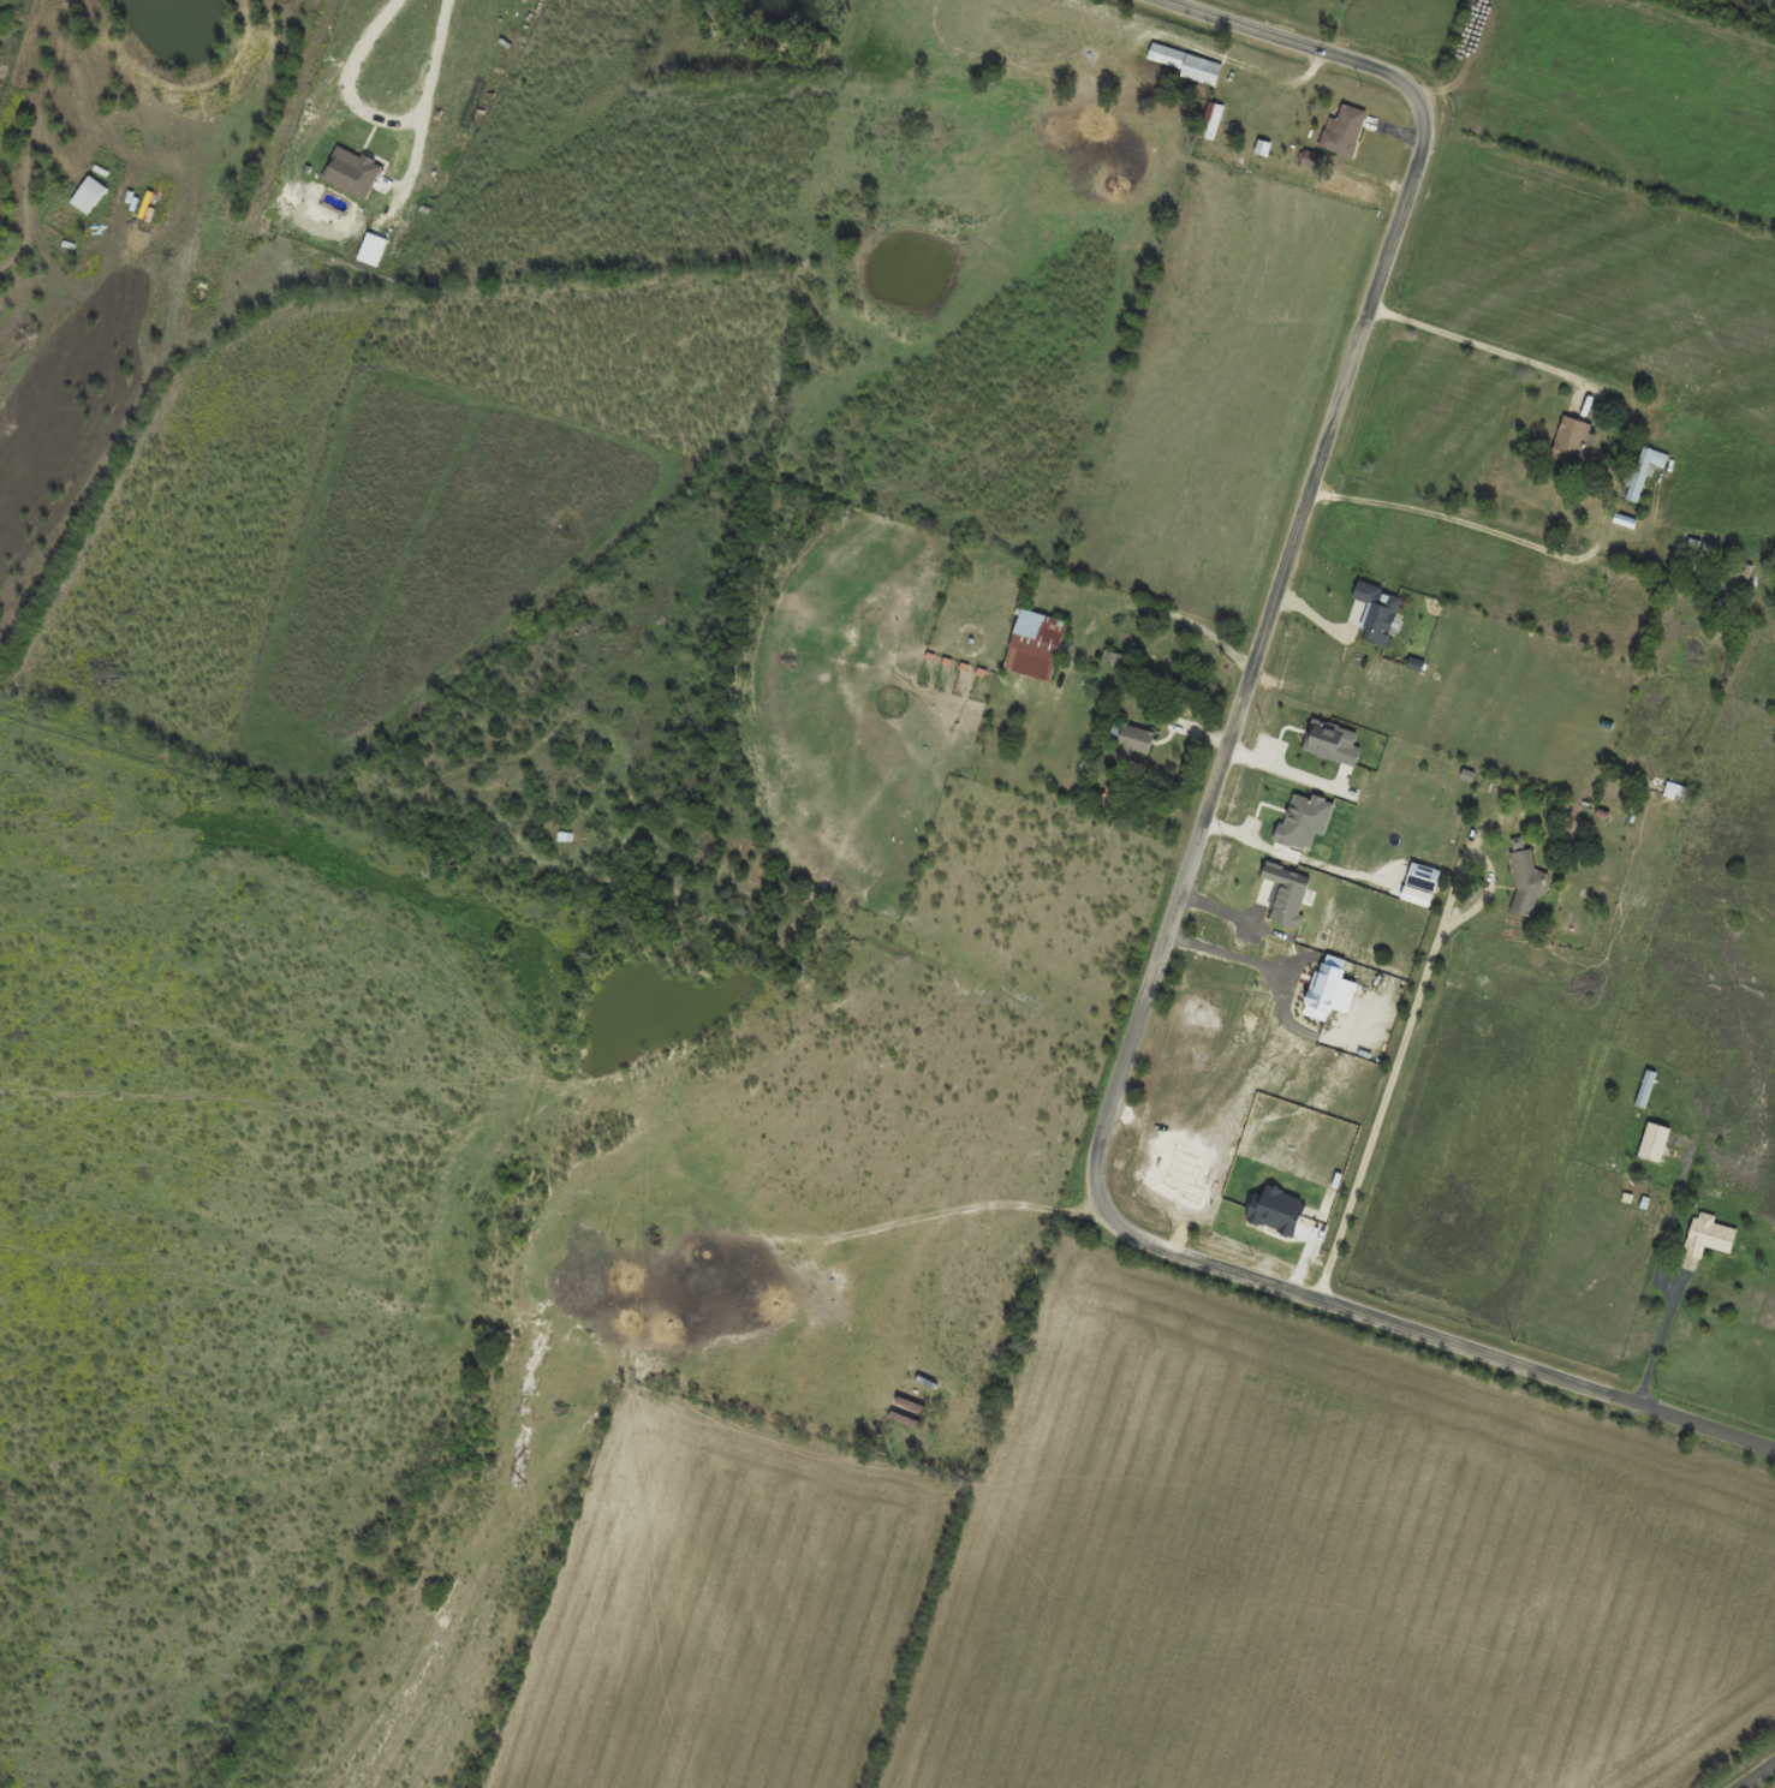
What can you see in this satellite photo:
building: (1187, 65)
road: (351, 82)
road: (428, 99)
building: (1214, 123)
building: (1345, 132)
building: (1316, 162)
road: (1489, 351)
building: (1574, 442)
building: (1646, 472)
road: (1491, 534)
building: (1739, 571)
road: (1163, 610)
building: (1038, 646)
building: (1134, 741)
building: (1670, 791)
road: (1192, 857)
building: (1529, 884)
road: (1221, 953)
road: (1407, 1023)
building: (1648, 1090)
building: (1654, 1143)
road: (1682, 1169)
building: (1709, 1236)
road: (1668, 1297)

